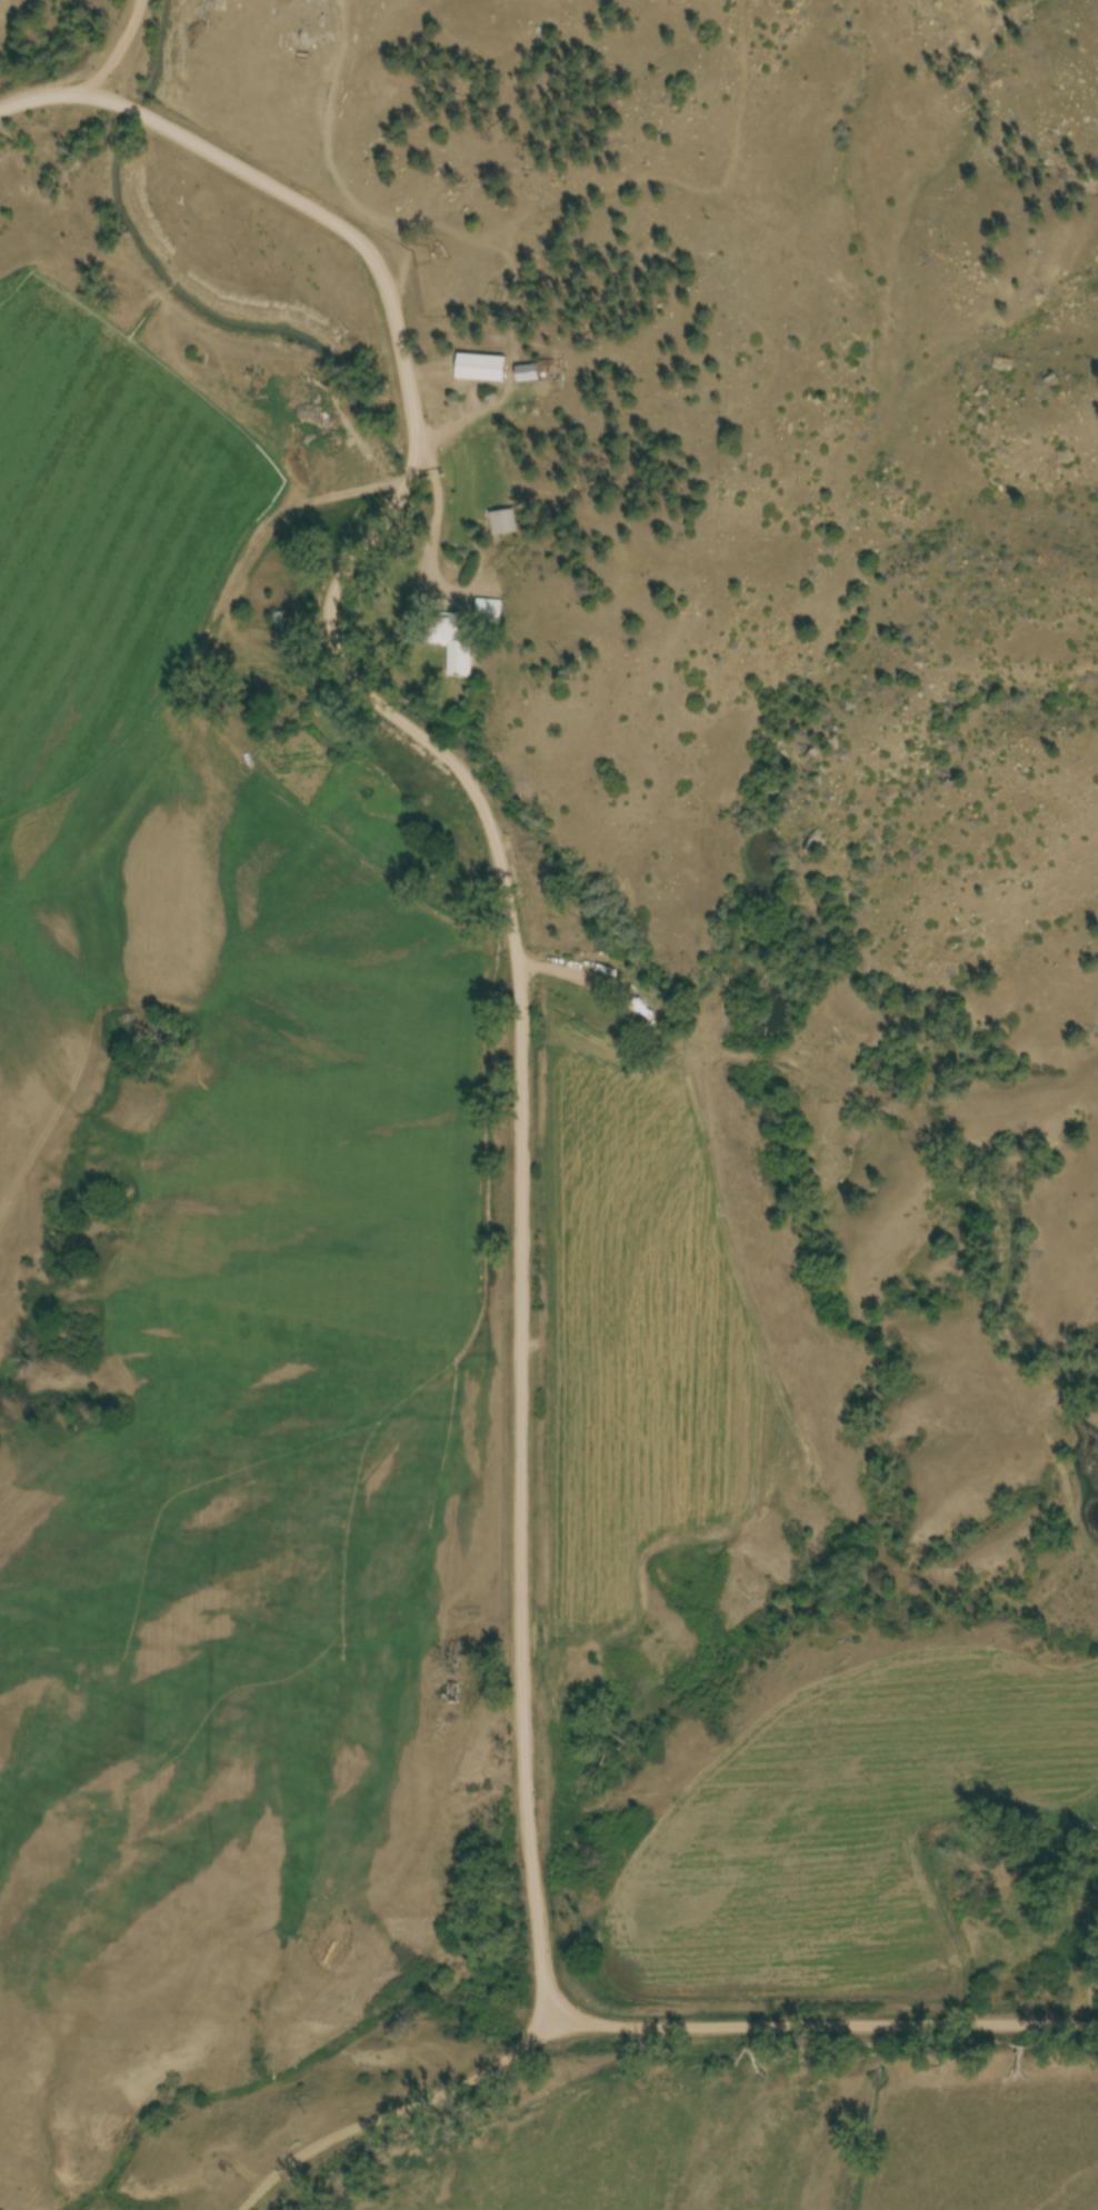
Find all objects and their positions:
road: (335, 87)
building: (481, 369)
building: (529, 373)
building: (505, 523)
building: (490, 612)
building: (452, 642)
road: (501, 891)
building: (639, 1002)
building: (453, 1691)
road: (828, 2029)
road: (392, 2109)

